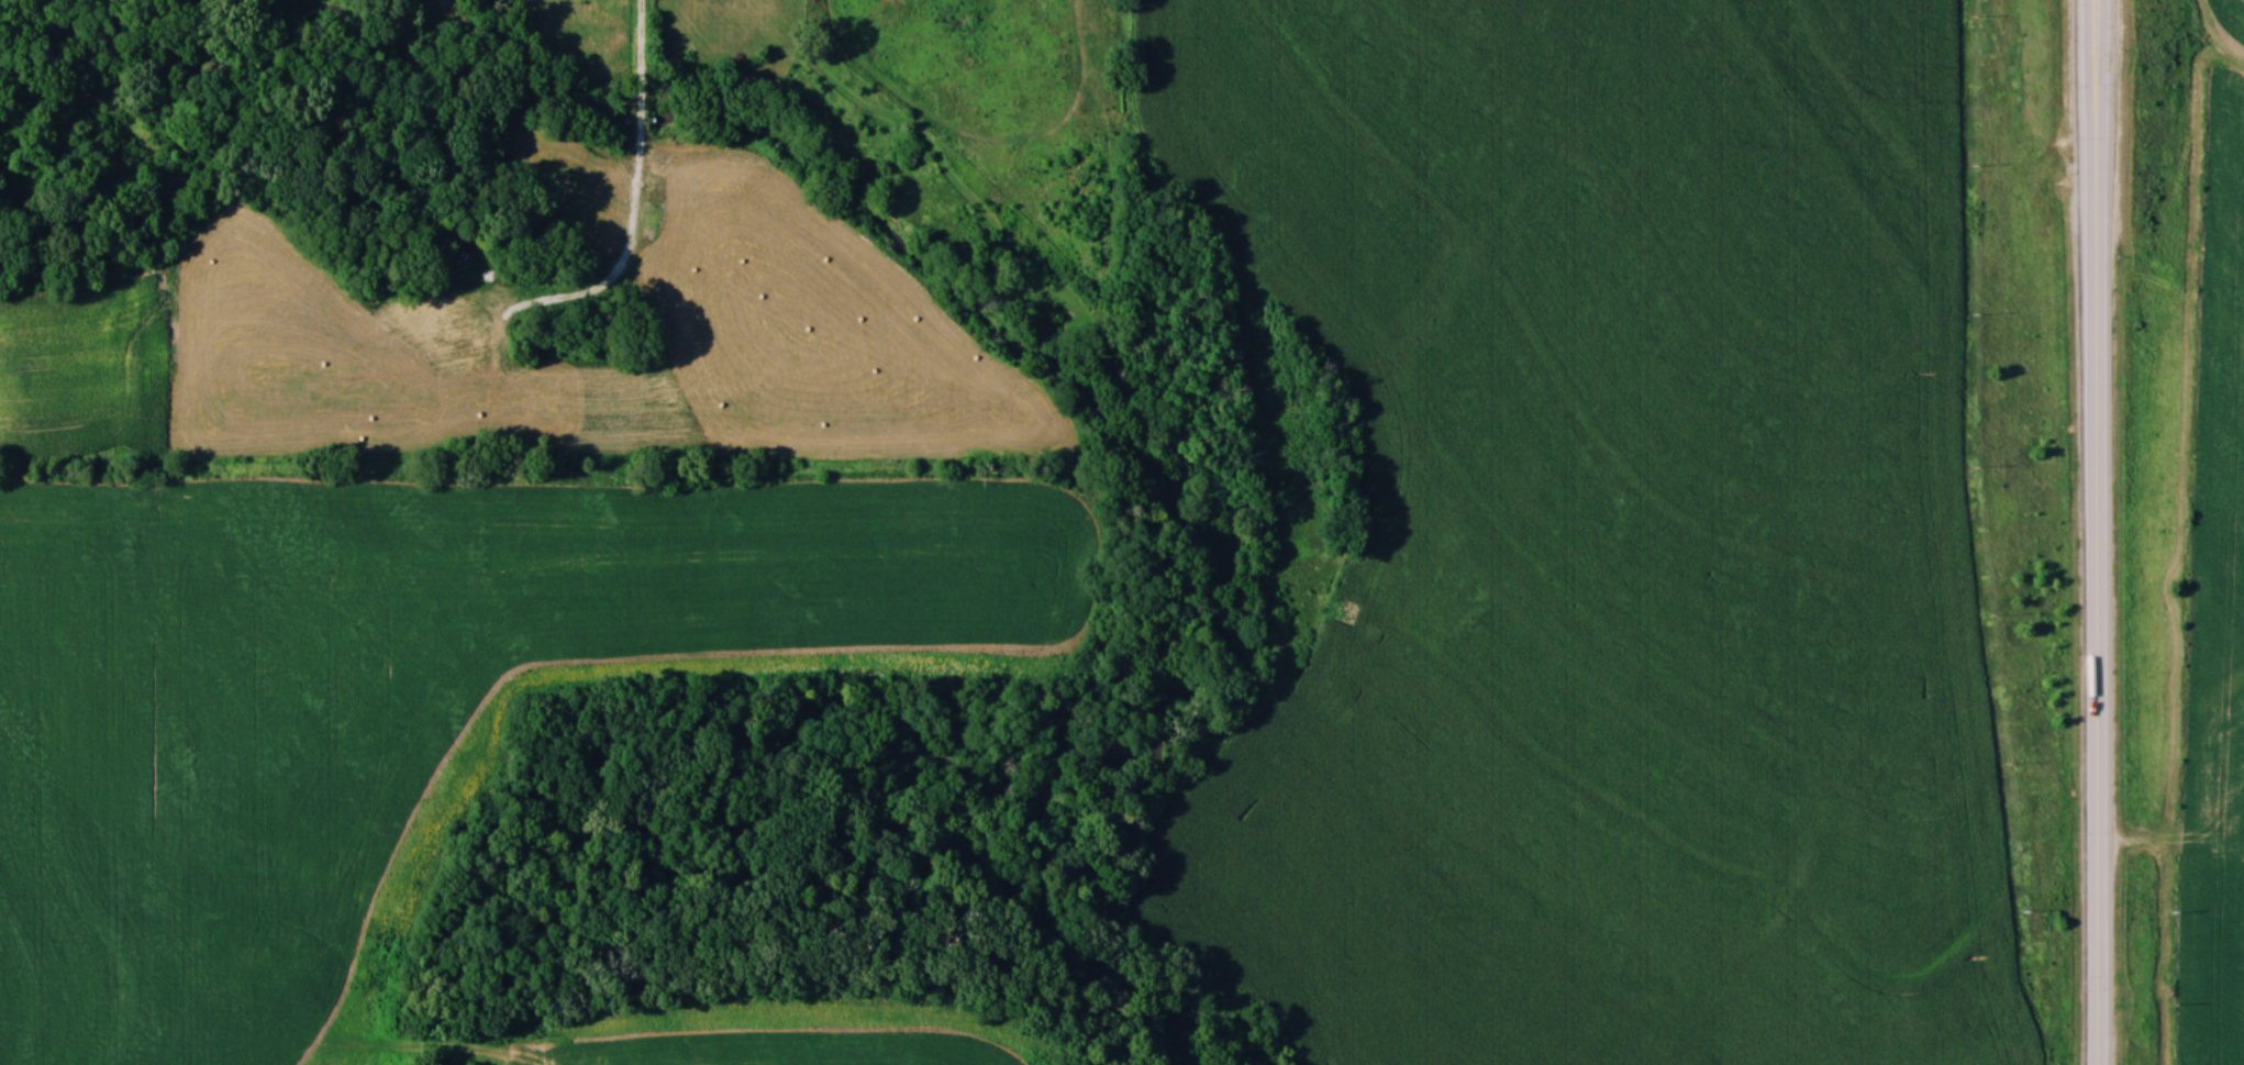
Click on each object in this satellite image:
road: (2099, 532)

